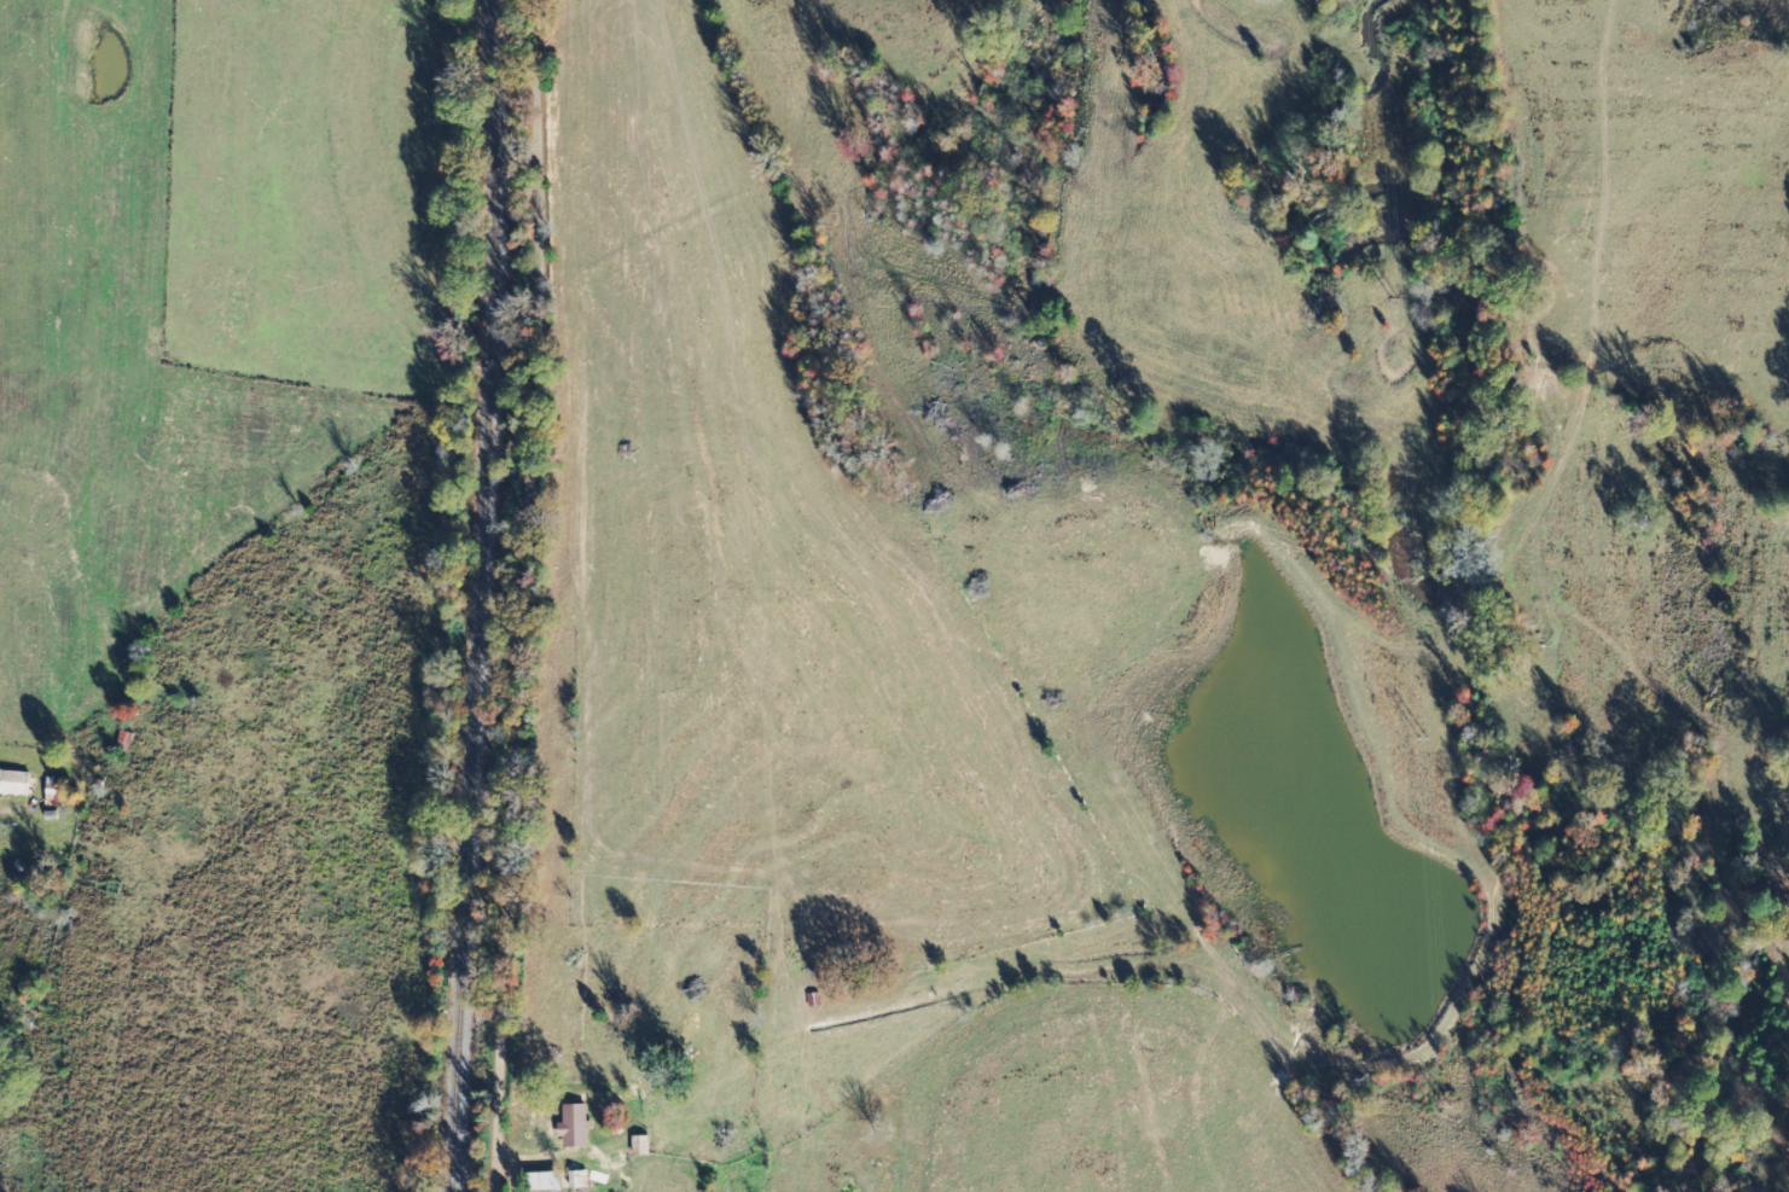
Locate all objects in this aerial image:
power tower: (1399, 301)
railway: (498, 594)
road: (569, 594)
power tower: (1425, 740)
building: (17, 783)
power tower: (1450, 1103)
building: (575, 1126)
building: (639, 1146)
building: (614, 1163)

